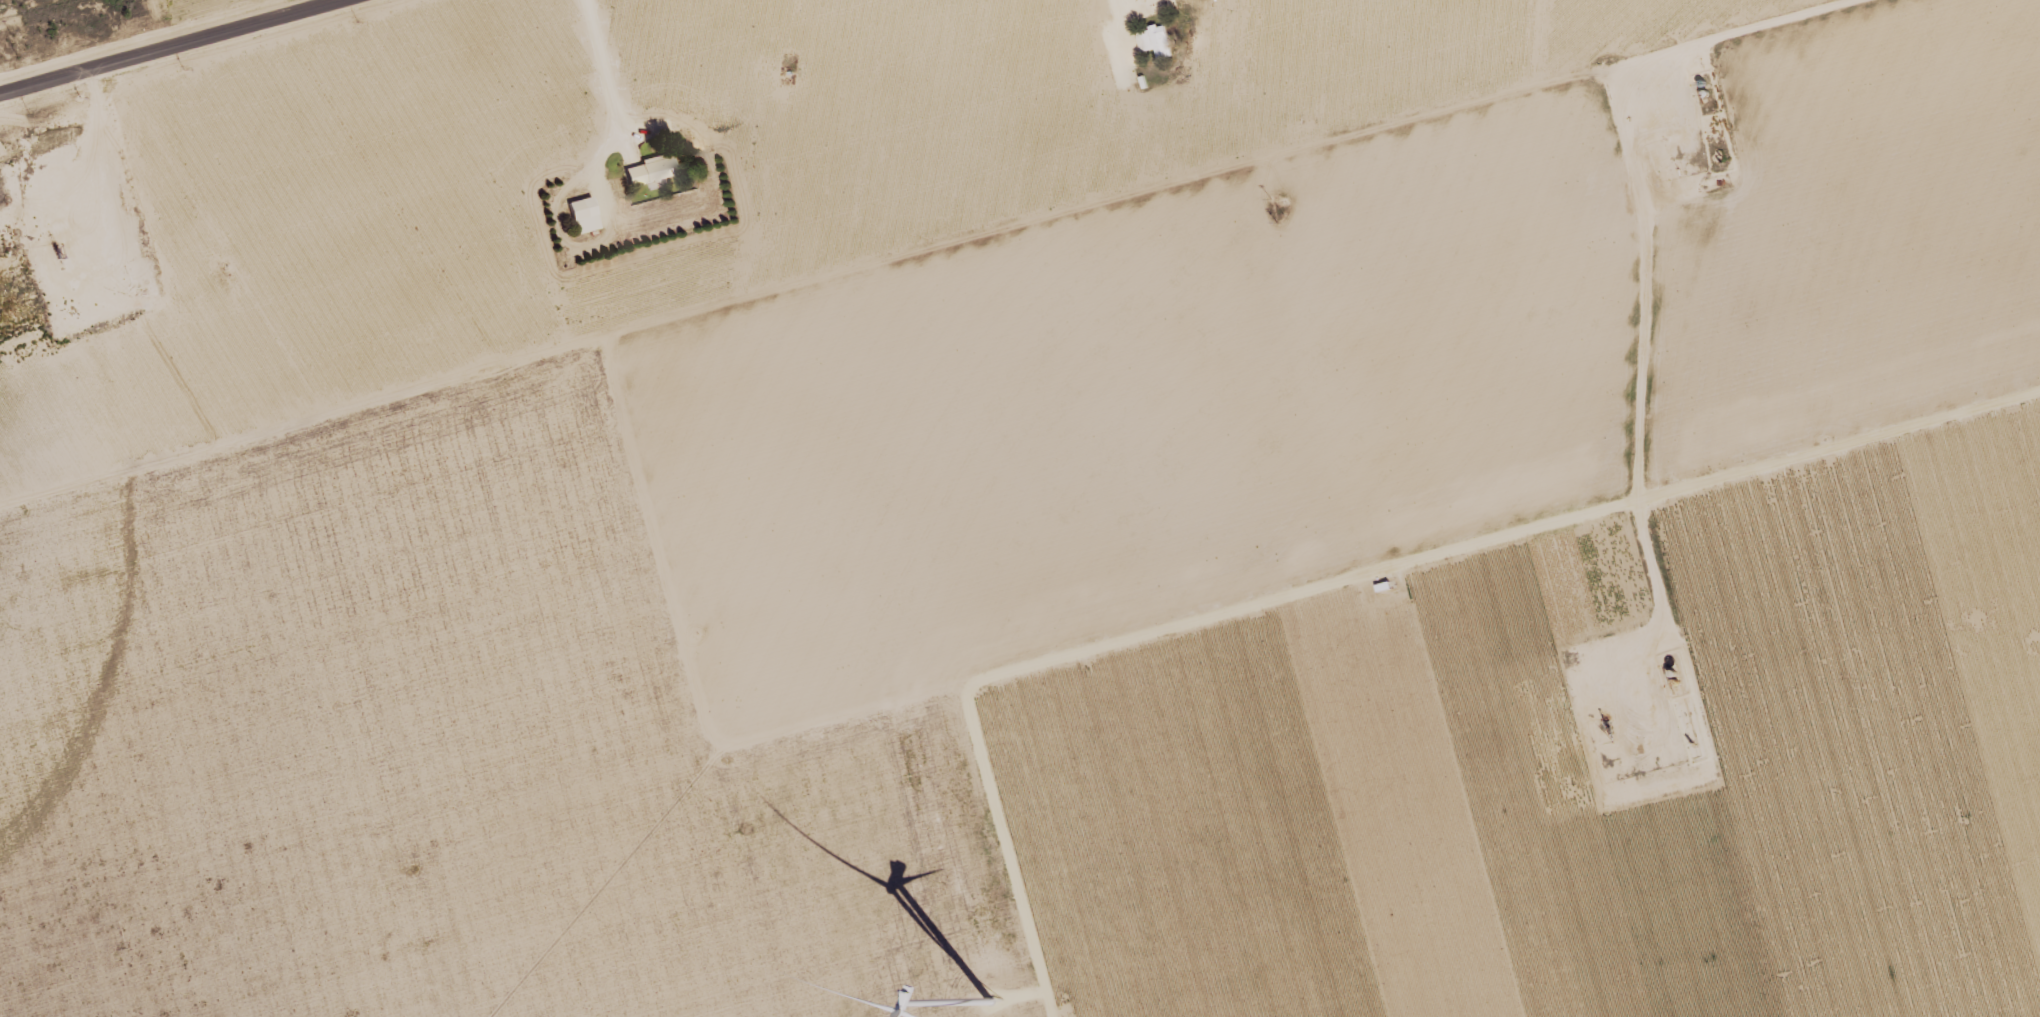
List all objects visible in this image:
building: (1155, 39)
road: (190, 52)
building: (651, 170)
building: (583, 214)
wind turbine: (984, 989)

